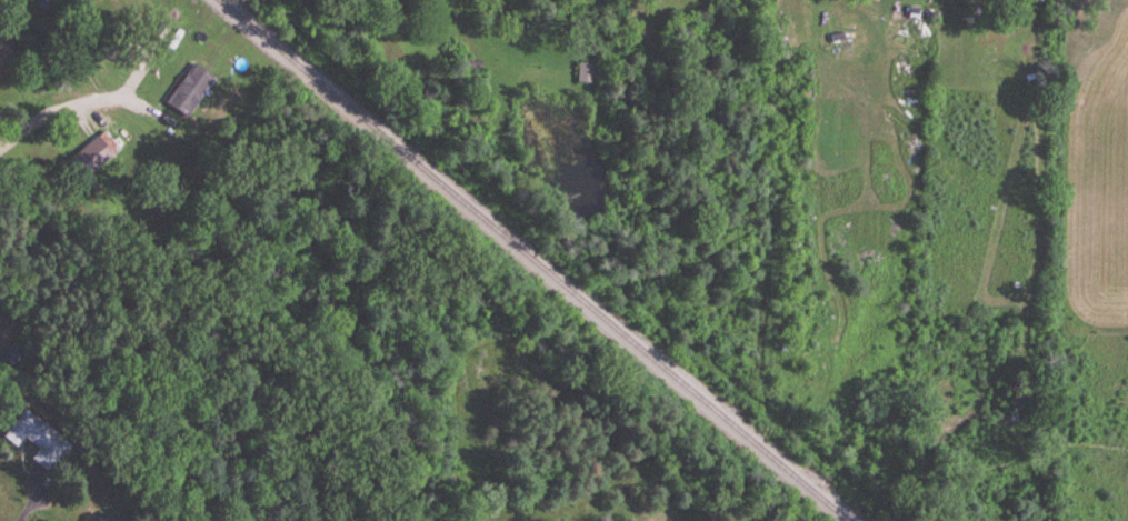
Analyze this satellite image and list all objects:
building: (4, 58)
building: (587, 73)
building: (190, 90)
road: (54, 117)
building: (84, 166)
crop: (1092, 260)
railway: (533, 261)
building: (39, 441)
road: (28, 511)

